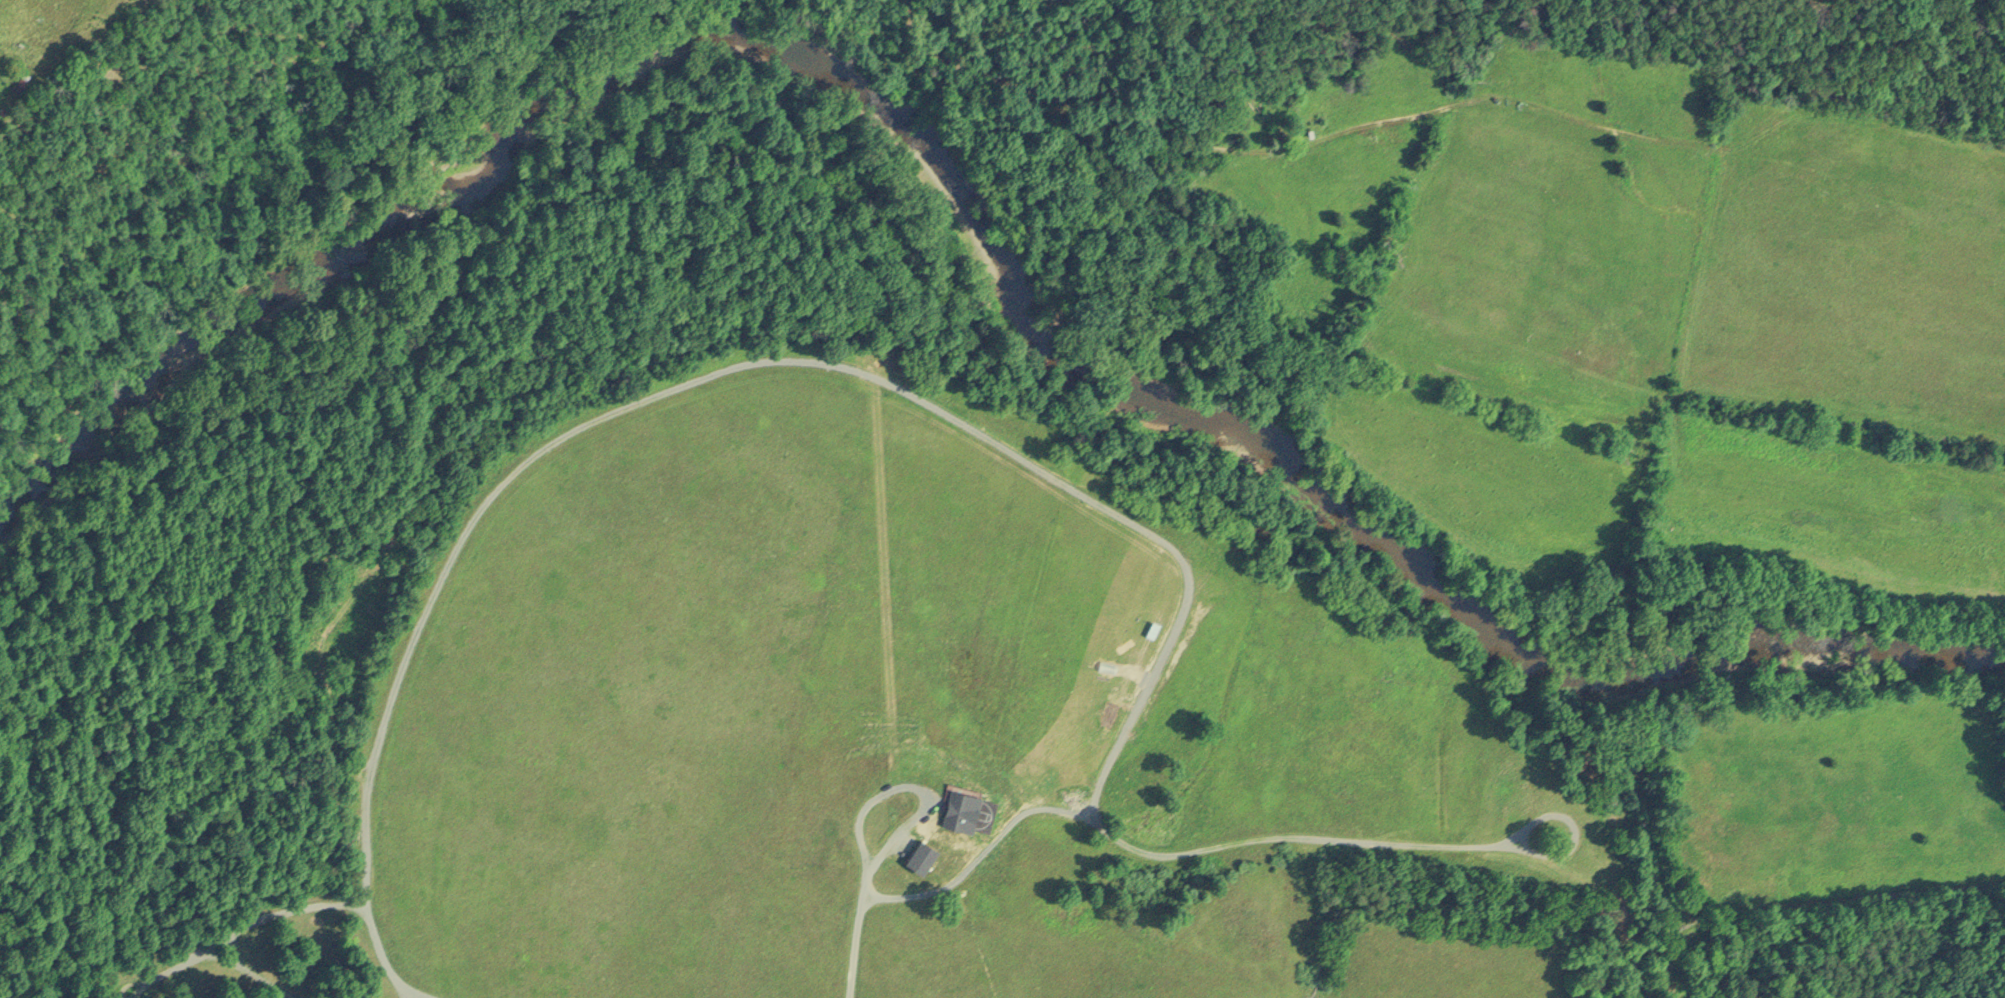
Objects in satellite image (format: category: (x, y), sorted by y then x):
river: (971, 215)
road: (717, 380)
road: (886, 803)
road: (1373, 851)
road: (975, 860)
road: (243, 931)
road: (857, 931)
road: (248, 973)

